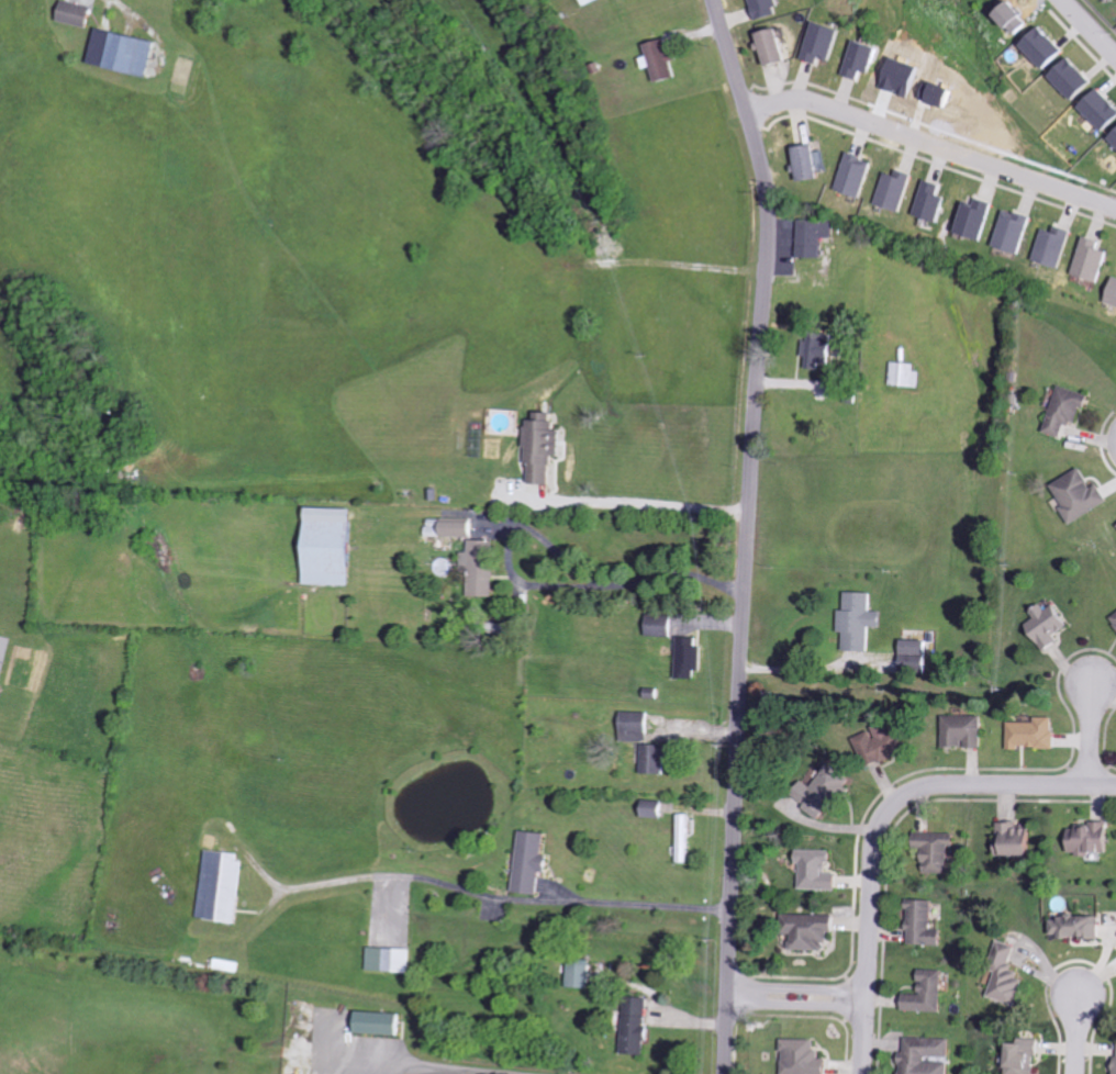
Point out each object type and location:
building: (592, 1)
building: (759, 9)
building: (80, 14)
road: (1091, 25)
building: (815, 44)
building: (1038, 46)
building: (763, 47)
building: (127, 53)
building: (666, 59)
building: (855, 60)
building: (1069, 78)
building: (1097, 109)
building: (1112, 138)
road: (931, 142)
building: (804, 163)
building: (849, 176)
building: (890, 191)
building: (926, 202)
building: (970, 220)
building: (1009, 233)
building: (815, 236)
building: (1049, 247)
building: (1087, 260)
building: (1109, 292)
building: (822, 349)
building: (906, 373)
building: (1069, 410)
building: (545, 446)
building: (1082, 495)
road: (649, 506)
building: (461, 527)
road: (749, 533)
building: (334, 546)
building: (482, 568)
building: (862, 620)
building: (662, 625)
building: (1052, 625)
building: (919, 653)
building: (691, 657)
building: (1, 691)
building: (638, 726)
building: (968, 731)
building: (1037, 732)
road: (1092, 737)
building: (883, 743)
building: (657, 758)
building: (829, 791)
road: (903, 801)
building: (657, 808)
building: (687, 838)
building: (1092, 838)
building: (1020, 839)
building: (939, 850)
building: (534, 862)
building: (821, 871)
building: (223, 886)
building: (926, 924)
building: (1081, 926)
building: (814, 930)
building: (1006, 949)
building: (392, 960)
building: (231, 964)
building: (583, 974)
building: (1011, 986)
road: (797, 991)
building: (930, 993)
road: (797, 1005)
building: (382, 1022)
building: (639, 1026)
road: (1078, 1032)
road: (866, 1041)
building: (1027, 1055)
building: (929, 1056)
building: (806, 1058)
road: (417, 1063)

